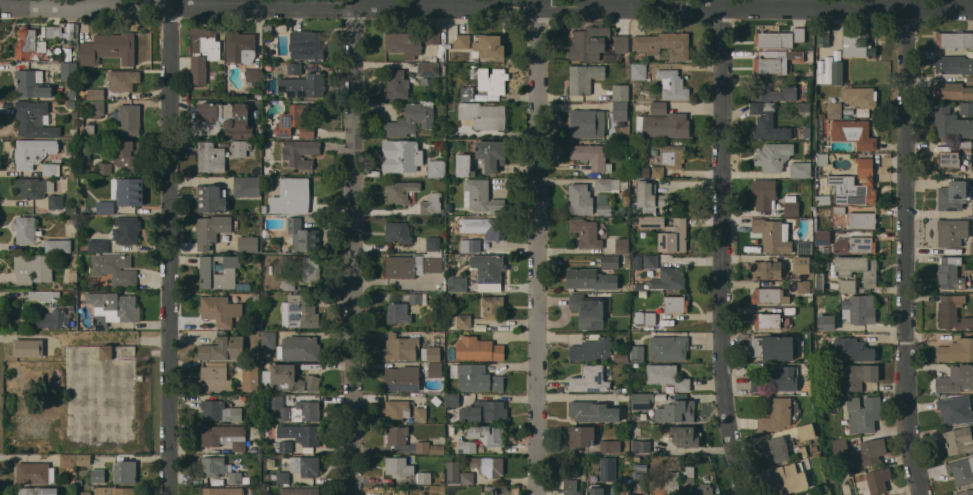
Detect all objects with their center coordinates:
road: (486, 4)
building: (268, 29)
building: (51, 31)
building: (779, 38)
building: (823, 38)
building: (954, 39)
building: (207, 41)
building: (462, 41)
building: (410, 42)
building: (28, 43)
building: (621, 43)
building: (305, 44)
building: (592, 44)
building: (664, 44)
building: (449, 45)
building: (858, 45)
building: (241, 46)
building: (488, 46)
building: (109, 48)
building: (57, 50)
building: (627, 58)
building: (476, 59)
building: (777, 61)
building: (953, 64)
building: (294, 68)
building: (428, 69)
building: (198, 70)
building: (68, 71)
building: (638, 71)
building: (837, 72)
building: (254, 75)
building: (584, 77)
building: (122, 79)
building: (491, 79)
building: (969, 80)
building: (32, 84)
building: (395, 84)
building: (672, 84)
building: (303, 85)
building: (953, 90)
building: (772, 91)
building: (620, 92)
building: (95, 93)
building: (467, 93)
building: (72, 95)
building: (259, 97)
building: (860, 98)
building: (259, 103)
building: (71, 104)
building: (640, 106)
building: (966, 107)
building: (659, 108)
building: (97, 109)
building: (834, 109)
building: (620, 110)
building: (821, 114)
building: (483, 115)
building: (229, 117)
building: (34, 118)
building: (128, 118)
building: (295, 120)
building: (410, 120)
building: (81, 121)
building: (587, 122)
building: (768, 122)
building: (950, 123)
building: (663, 125)
building: (90, 128)
building: (807, 131)
building: (854, 133)
building: (964, 143)
building: (241, 147)
building: (85, 151)
building: (34, 152)
building: (300, 152)
building: (404, 154)
building: (491, 154)
building: (126, 155)
building: (673, 155)
building: (591, 156)
building: (773, 156)
building: (210, 157)
building: (949, 158)
building: (822, 159)
building: (464, 165)
building: (105, 168)
building: (436, 168)
building: (51, 169)
building: (801, 169)
building: (72, 170)
building: (657, 171)
building: (607, 184)
building: (624, 184)
building: (855, 184)
building: (246, 186)
building: (34, 187)
building: (130, 191)
building: (400, 191)
building: (764, 193)
building: (952, 195)
building: (292, 196)
building: (482, 197)
building: (650, 197)
building: (580, 198)
building: (602, 198)
building: (212, 199)
building: (823, 200)
building: (56, 201)
building: (432, 204)
building: (791, 205)
building: (105, 207)
building: (71, 209)
building: (604, 209)
building: (839, 209)
building: (972, 209)
building: (452, 219)
building: (863, 219)
building: (651, 222)
building: (815, 223)
building: (494, 229)
building: (27, 230)
building: (126, 230)
building: (211, 230)
building: (952, 231)
building: (398, 232)
building: (586, 232)
building: (303, 235)
building: (773, 235)
building: (674, 236)
building: (822, 237)
building: (248, 244)
building: (433, 244)
building: (855, 244)
building: (58, 245)
building: (98, 245)
building: (470, 245)
building: (622, 245)
road: (168, 247)
road: (353, 247)
road: (538, 247)
building: (971, 247)
road: (724, 248)
road: (908, 248)
building: (610, 261)
building: (651, 261)
building: (637, 262)
building: (802, 264)
building: (411, 265)
building: (488, 267)
building: (33, 268)
building: (115, 268)
building: (310, 268)
building: (767, 268)
building: (857, 268)
building: (207, 270)
building: (950, 272)
building: (73, 276)
building: (972, 276)
building: (591, 279)
building: (667, 279)
building: (819, 282)
building: (288, 284)
building: (457, 284)
building: (639, 285)
building: (848, 285)
building: (804, 286)
building: (642, 293)
building: (769, 295)
building: (44, 296)
building: (418, 298)
building: (675, 303)
building: (117, 304)
building: (492, 306)
building: (859, 309)
building: (220, 310)
building: (588, 310)
building: (790, 310)
building: (299, 311)
building: (952, 312)
building: (398, 313)
building: (639, 317)
building: (650, 318)
building: (53, 319)
building: (768, 320)
building: (100, 321)
building: (464, 321)
building: (826, 322)
building: (269, 339)
building: (29, 347)
building: (401, 347)
building: (669, 347)
building: (773, 347)
building: (223, 348)
building: (299, 348)
building: (478, 349)
building: (853, 349)
building: (596, 350)
building: (956, 350)
building: (107, 352)
building: (430, 353)
building: (637, 353)
building: (435, 369)
building: (854, 375)
building: (667, 376)
building: (216, 378)
building: (251, 378)
building: (289, 378)
building: (403, 378)
building: (476, 378)
building: (590, 379)
building: (776, 379)
building: (956, 379)
building: (829, 396)
building: (452, 400)
building: (642, 401)
building: (955, 409)
building: (296, 410)
building: (397, 410)
building: (220, 411)
building: (484, 411)
building: (596, 411)
building: (676, 411)
building: (420, 413)
building: (779, 413)
building: (863, 413)
building: (806, 431)
building: (301, 433)
building: (488, 434)
building: (397, 435)
building: (582, 435)
building: (682, 435)
building: (224, 436)
building: (958, 439)
building: (467, 445)
building: (641, 445)
building: (285, 446)
building: (610, 446)
building: (429, 447)
building: (814, 448)
building: (840, 448)
building: (255, 449)
building: (776, 449)
building: (801, 451)
building: (871, 452)
building: (83, 459)
building: (68, 460)
building: (215, 465)
building: (305, 465)
building: (488, 465)
building: (399, 466)
building: (608, 468)
building: (961, 470)
building: (125, 471)
building: (35, 472)
building: (453, 472)
building: (98, 476)
building: (238, 477)
building: (283, 477)
building: (424, 477)
building: (467, 477)
building: (688, 477)
building: (789, 478)
building: (73, 479)
building: (878, 479)
building: (80, 481)
building: (640, 482)
building: (673, 484)
building: (571, 487)
building: (595, 489)
building: (704, 489)
building: (114, 490)
building: (484, 490)
building: (38, 491)
building: (213, 491)
building: (300, 491)
building: (964, 492)
building: (85, 493)
building: (624, 493)
building: (658, 494)
building: (800, 494)

